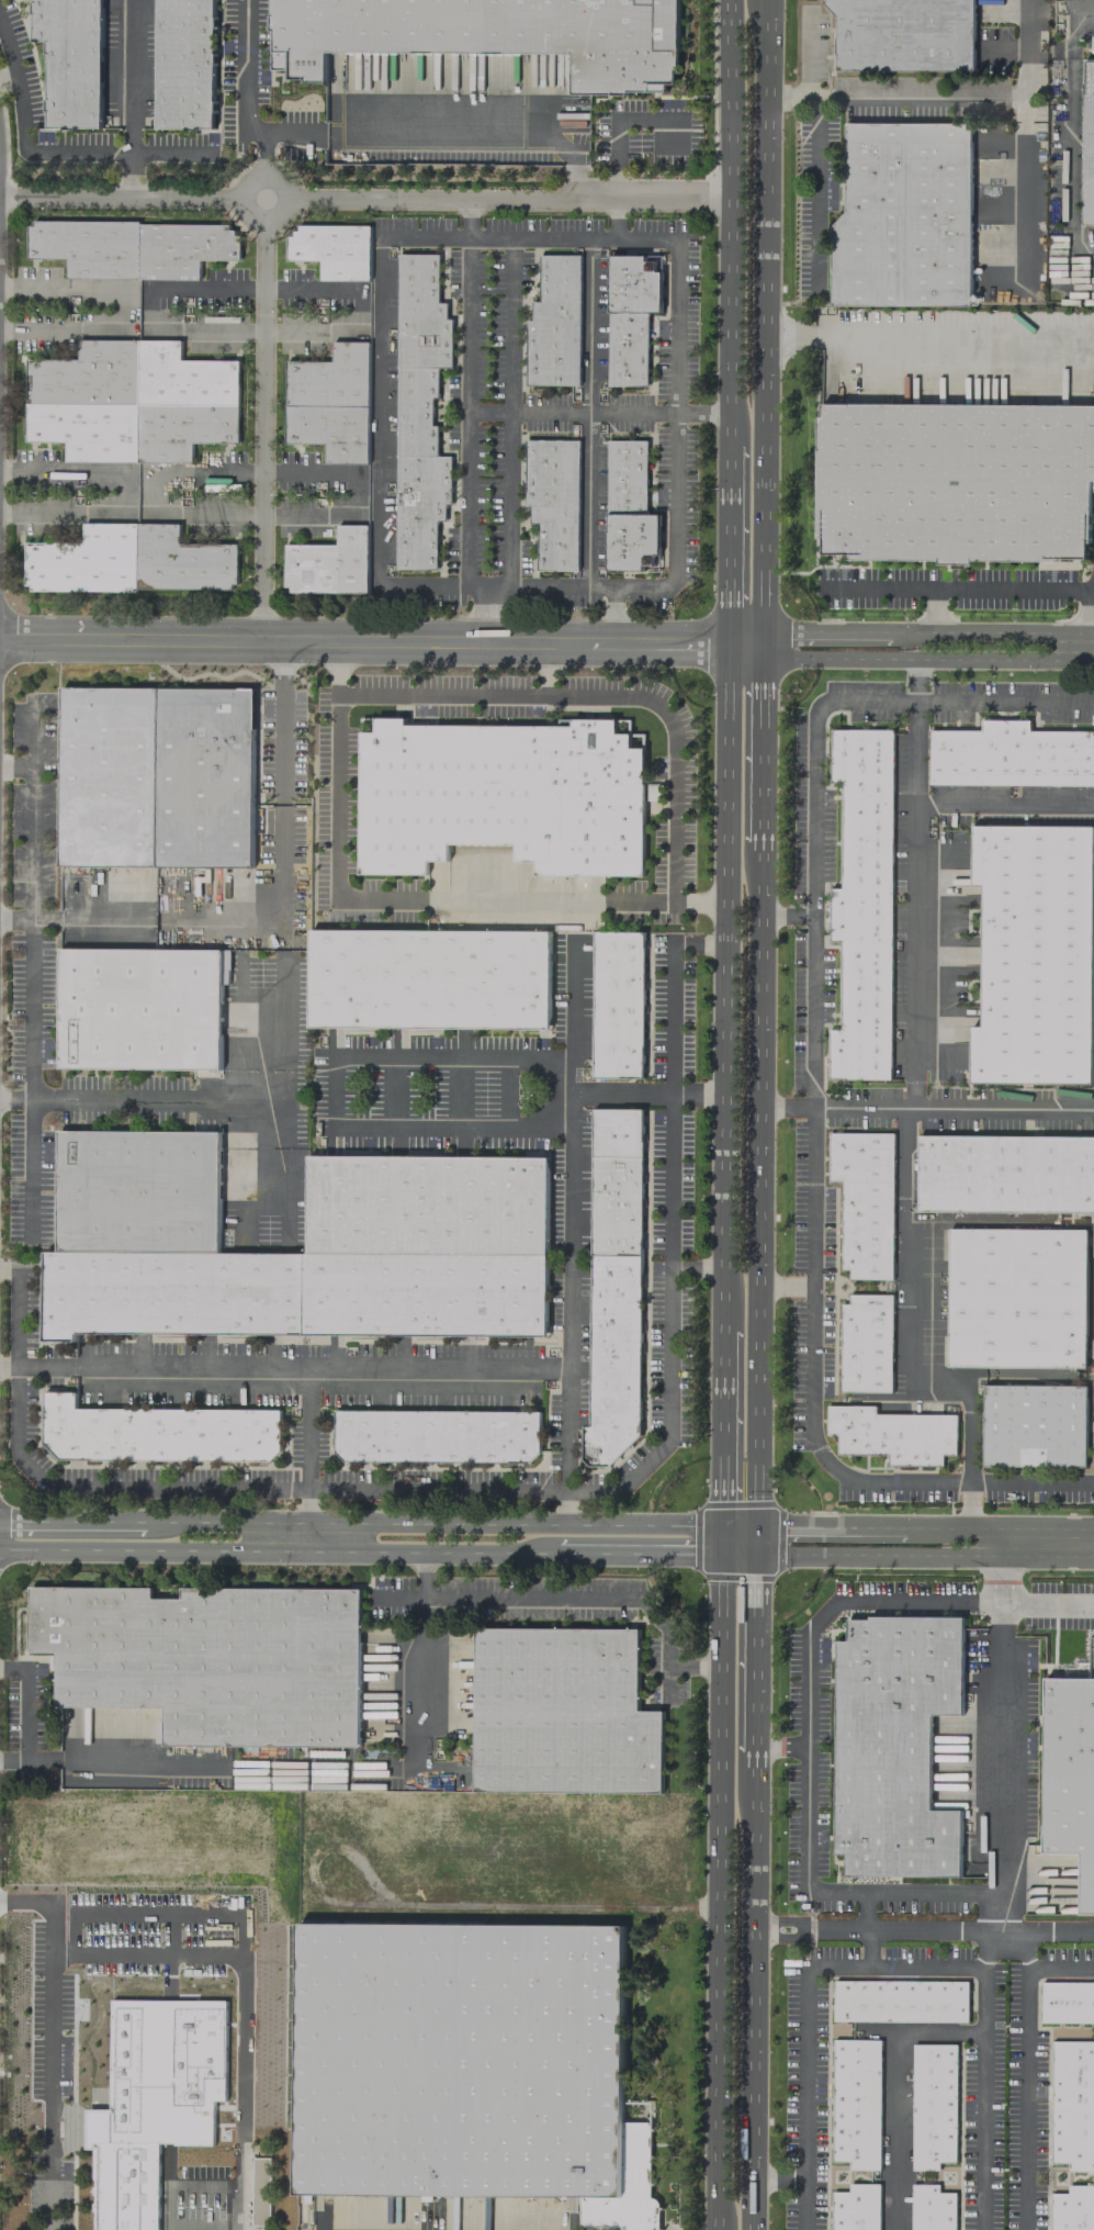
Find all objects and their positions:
road: (1073, 14)
building: (489, 34)
building: (904, 34)
road: (1002, 47)
road: (1025, 48)
building: (71, 59)
building: (185, 64)
road: (131, 75)
road: (245, 75)
road: (788, 96)
road: (920, 96)
road: (1024, 109)
road: (665, 119)
road: (291, 132)
road: (458, 139)
road: (24, 141)
road: (1071, 142)
building: (1087, 143)
road: (172, 152)
road: (266, 153)
road: (131, 173)
road: (273, 177)
road: (576, 177)
road: (617, 179)
road: (815, 191)
road: (121, 194)
road: (653, 195)
road: (432, 199)
road: (1023, 202)
road: (618, 216)
building: (904, 216)
road: (469, 218)
road: (730, 221)
building: (131, 247)
building: (332, 249)
road: (148, 307)
road: (358, 309)
road: (122, 310)
building: (630, 316)
road: (762, 323)
building: (554, 324)
road: (509, 325)
road: (785, 332)
road: (950, 340)
building: (132, 401)
road: (676, 401)
building: (331, 402)
building: (419, 410)
road: (486, 411)
road: (588, 412)
road: (702, 413)
road: (379, 418)
road: (261, 430)
building: (955, 481)
road: (125, 490)
road: (148, 492)
road: (354, 492)
road: (466, 497)
road: (507, 498)
building: (553, 500)
building: (629, 508)
road: (729, 544)
building: (128, 560)
building: (329, 563)
road: (986, 591)
road: (481, 614)
road: (614, 615)
road: (458, 641)
road: (1005, 646)
road: (337, 655)
road: (285, 664)
road: (546, 669)
road: (916, 672)
road: (623, 695)
road: (1005, 698)
road: (760, 743)
road: (284, 746)
building: (1010, 755)
road: (15, 765)
building: (156, 776)
building: (501, 794)
road: (1004, 802)
road: (31, 809)
road: (283, 834)
road: (335, 842)
road: (811, 883)
road: (515, 901)
road: (700, 904)
building: (862, 905)
road: (29, 920)
road: (196, 920)
road: (282, 932)
building: (1034, 953)
road: (725, 976)
building: (428, 978)
building: (618, 1005)
building: (139, 1009)
road: (32, 1010)
road: (282, 1033)
road: (331, 1089)
road: (574, 1090)
road: (15, 1099)
road: (172, 1099)
road: (861, 1108)
road: (1002, 1110)
road: (287, 1121)
road: (906, 1121)
road: (31, 1169)
building: (1006, 1173)
road: (262, 1184)
road: (758, 1198)
building: (864, 1201)
building: (427, 1204)
road: (245, 1215)
building: (1037, 1222)
road: (669, 1225)
road: (697, 1268)
building: (614, 1284)
road: (785, 1286)
building: (1016, 1297)
road: (566, 1307)
building: (866, 1343)
road: (812, 1360)
road: (282, 1366)
building: (1034, 1425)
building: (158, 1432)
road: (722, 1432)
building: (892, 1434)
building: (437, 1435)
road: (308, 1458)
road: (1031, 1483)
road: (187, 1486)
road: (968, 1505)
road: (376, 1522)
traffic signals: (722, 1523)
traffic signals: (753, 1524)
road: (859, 1526)
road: (986, 1527)
road: (1050, 1527)
road: (377, 1550)
traffic signals: (721, 1554)
traffic signals: (755, 1556)
road: (862, 1556)
road: (988, 1558)
road: (1050, 1558)
road: (1005, 1565)
road: (420, 1572)
road: (396, 1595)
road: (506, 1596)
road: (842, 1602)
road: (1048, 1602)
road: (755, 1650)
building: (211, 1659)
road: (666, 1682)
road: (24, 1703)
building: (562, 1713)
building: (894, 1744)
road: (780, 1745)
road: (755, 1758)
road: (114, 1762)
road: (1002, 1766)
road: (346, 1767)
building: (1070, 1774)
road: (754, 1850)
road: (832, 1891)
road: (720, 1892)
road: (864, 1909)
road: (157, 1912)
road: (782, 1920)
road: (906, 1929)
road: (1048, 1930)
road: (168, 1932)
road: (782, 1937)
road: (868, 1948)
road: (1027, 1949)
road: (810, 1966)
road: (240, 1999)
building: (900, 2001)
building: (1067, 2001)
road: (49, 2042)
road: (753, 2052)
building: (467, 2066)
road: (1027, 2066)
road: (896, 2088)
road: (981, 2097)
building: (856, 2103)
building: (933, 2104)
building: (1073, 2104)
road: (778, 2176)
road: (184, 2183)
building: (125, 2186)
building: (260, 2190)
road: (803, 2203)
road: (752, 2204)
building: (857, 2207)
building: (932, 2208)
building: (1072, 2209)
road: (198, 2225)
road: (234, 2228)

